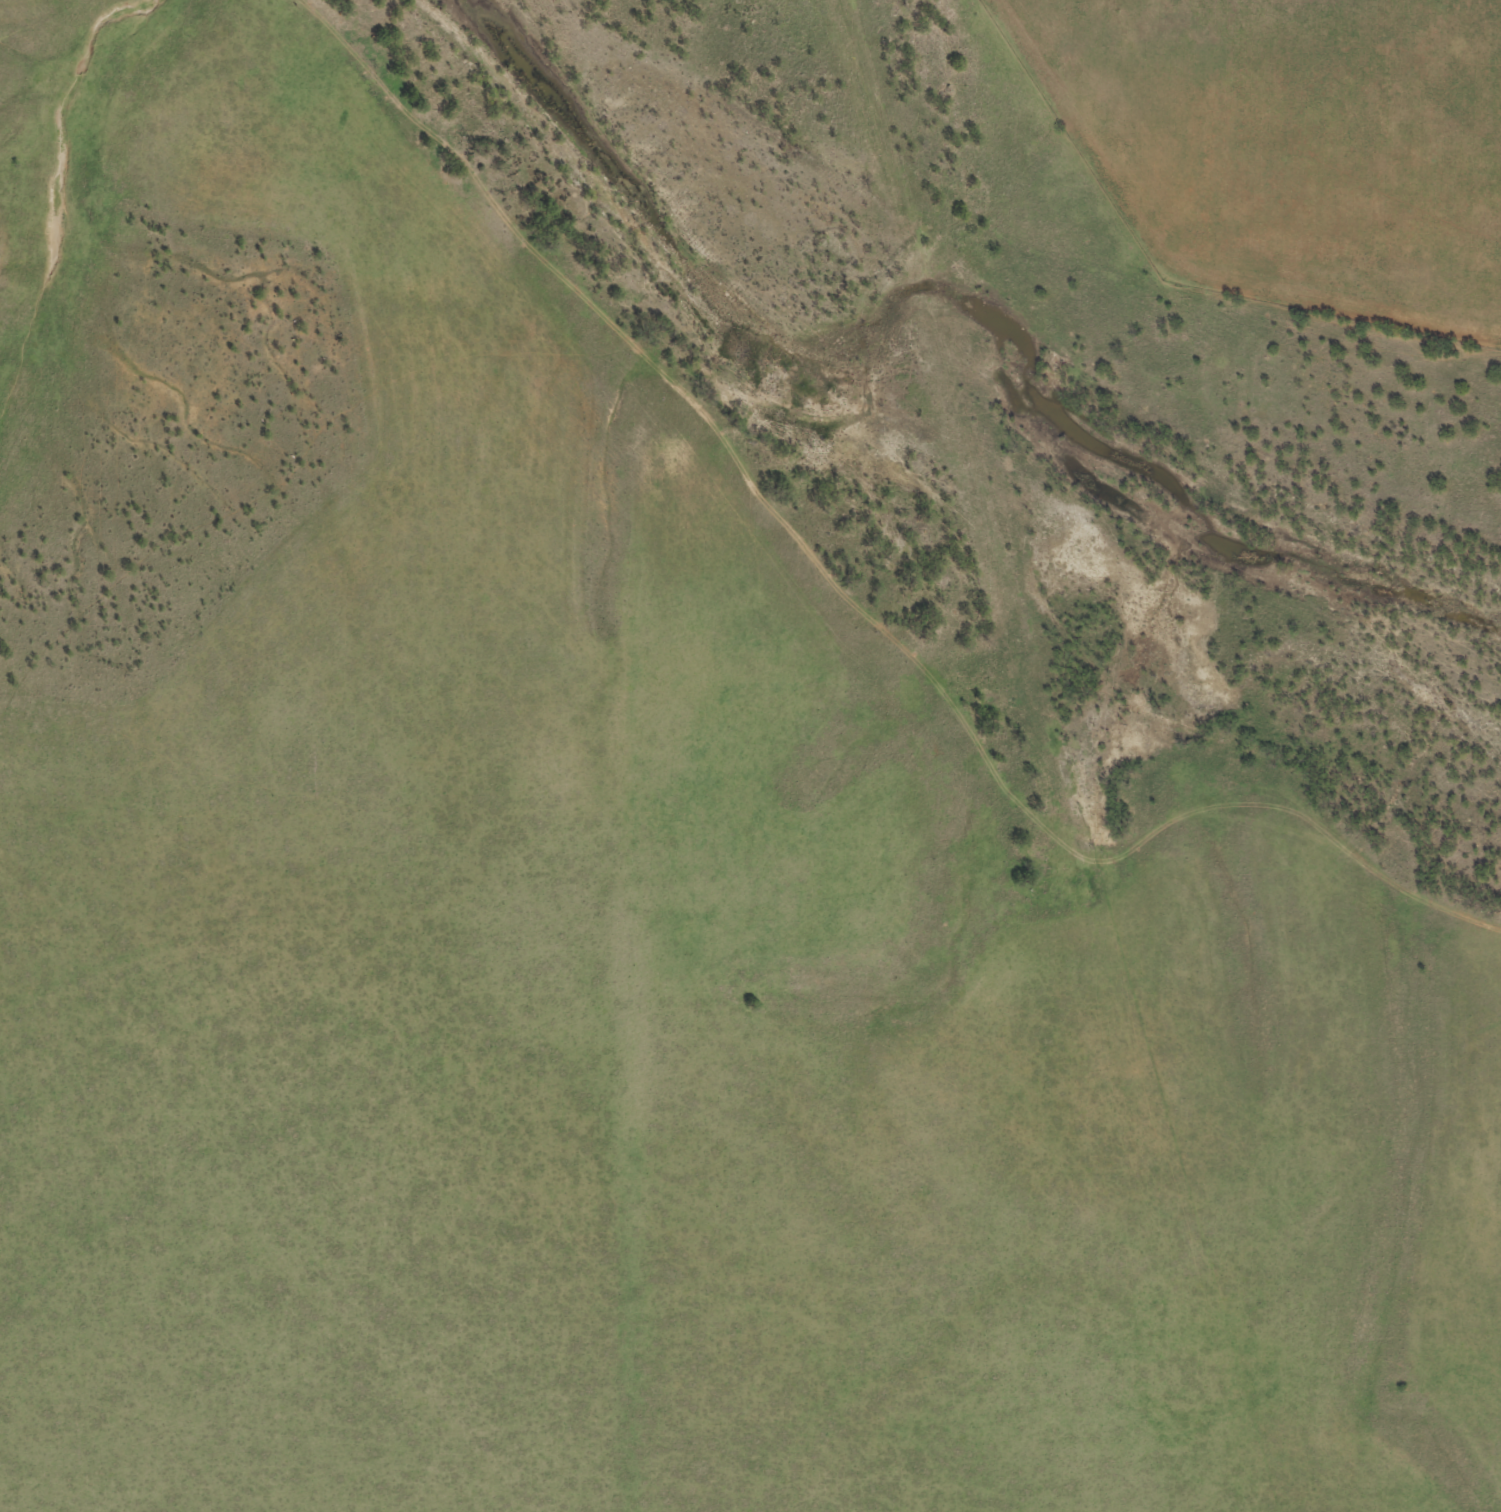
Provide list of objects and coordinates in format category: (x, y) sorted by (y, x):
road: (857, 605)

